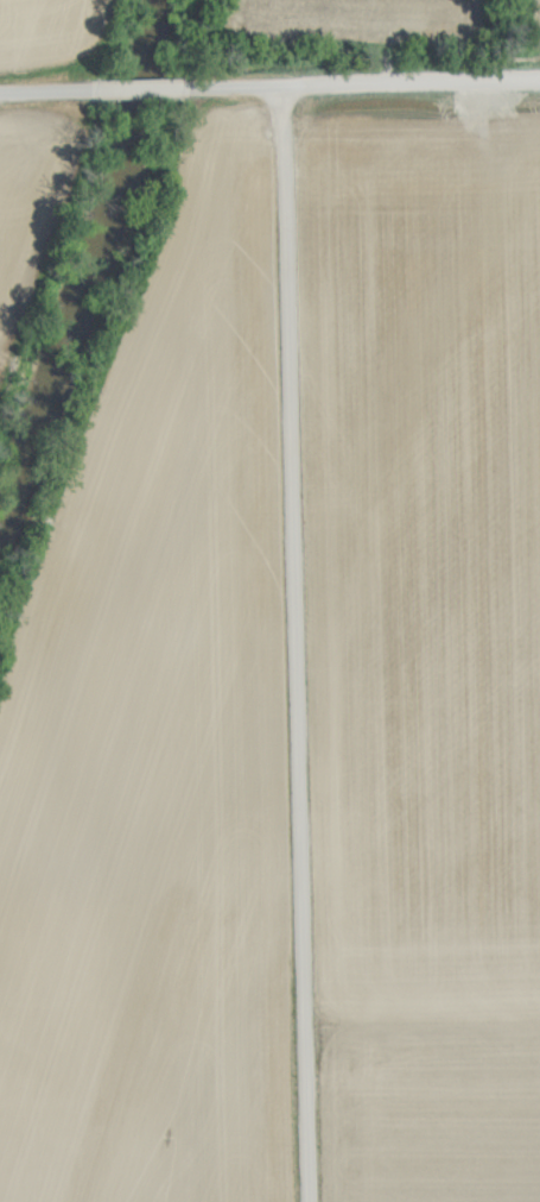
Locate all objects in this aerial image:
road: (269, 93)
road: (297, 647)

